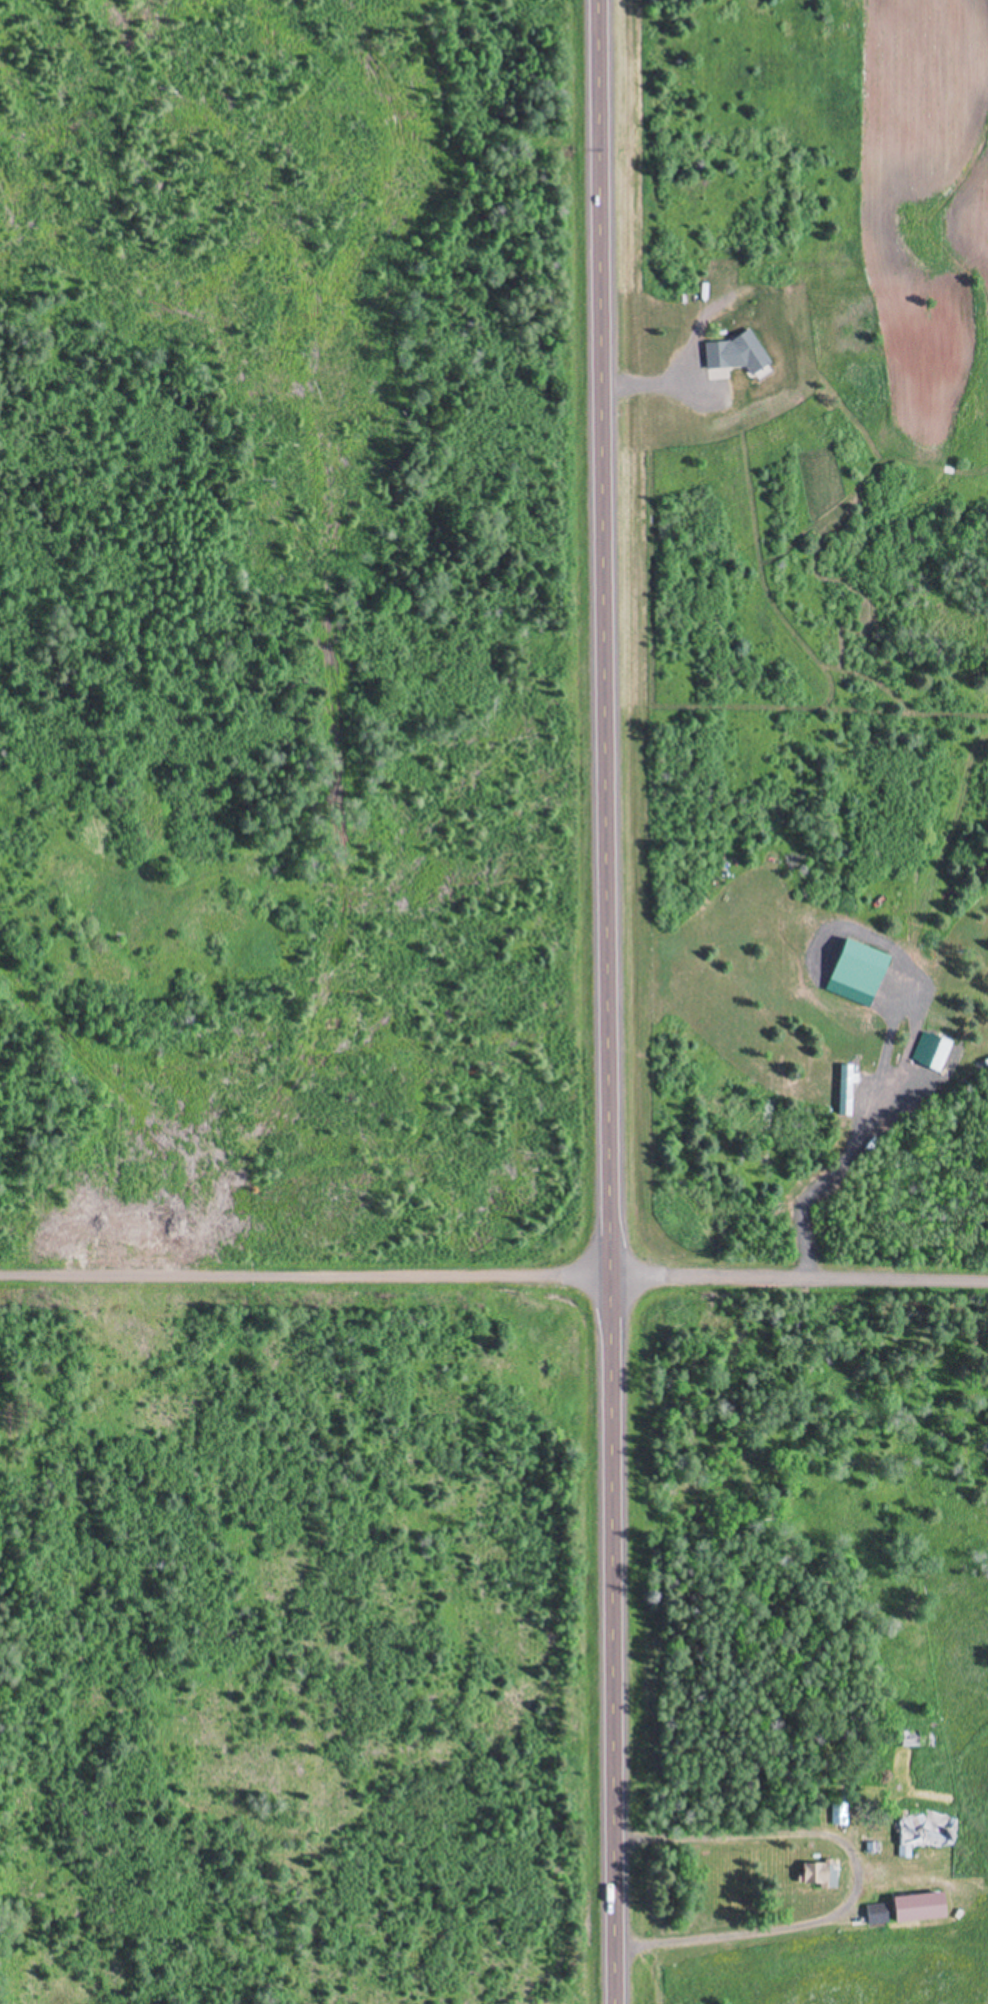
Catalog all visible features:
building: (735, 353)
road: (608, 1001)
building: (846, 1091)
road: (305, 1277)
road: (799, 1280)
building: (910, 1739)
building: (838, 1815)
building: (925, 1835)
building: (817, 1875)
building: (921, 1908)
building: (878, 1914)

